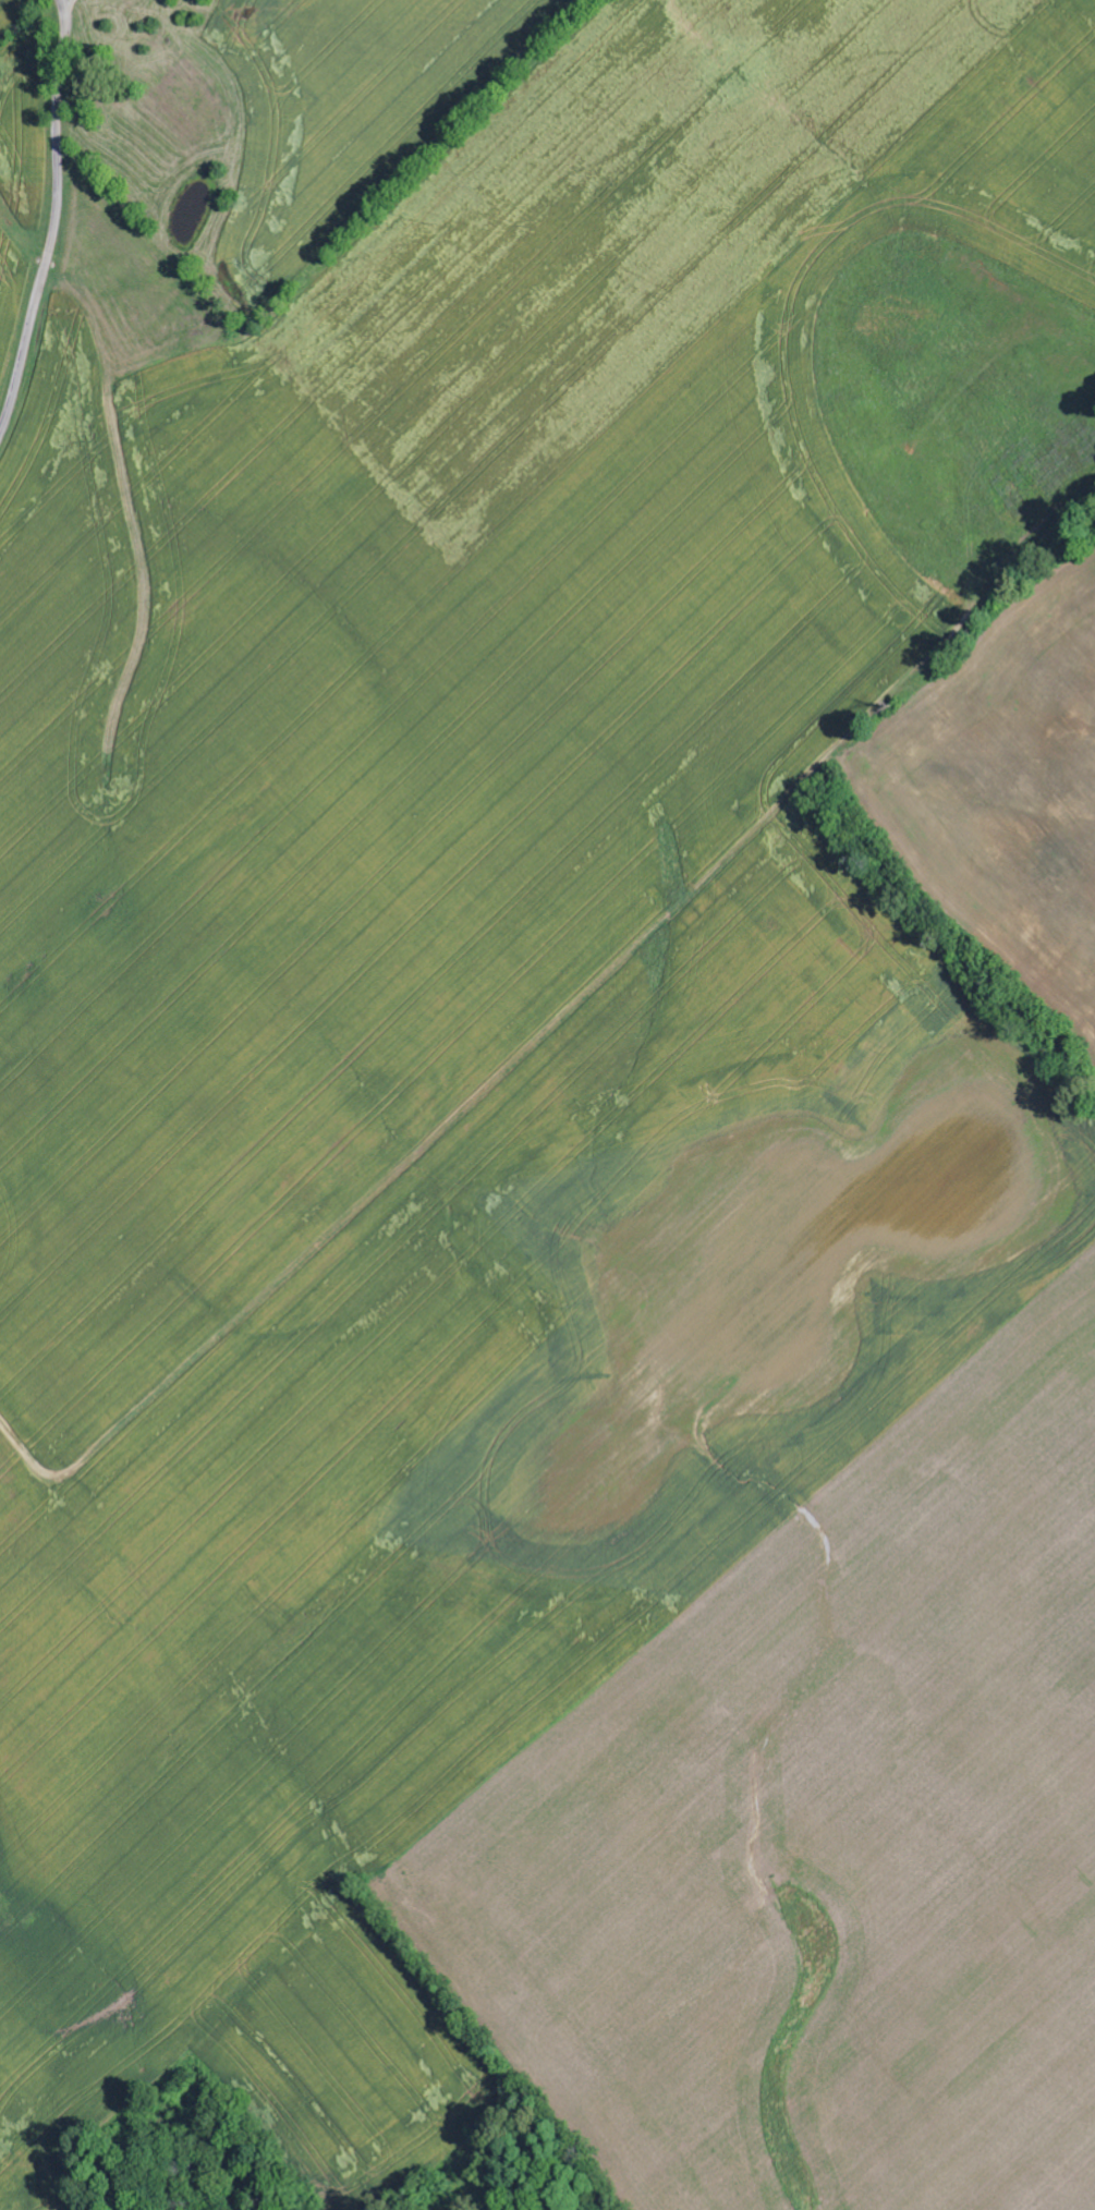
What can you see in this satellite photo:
road: (52, 217)
park: (540, 2159)

